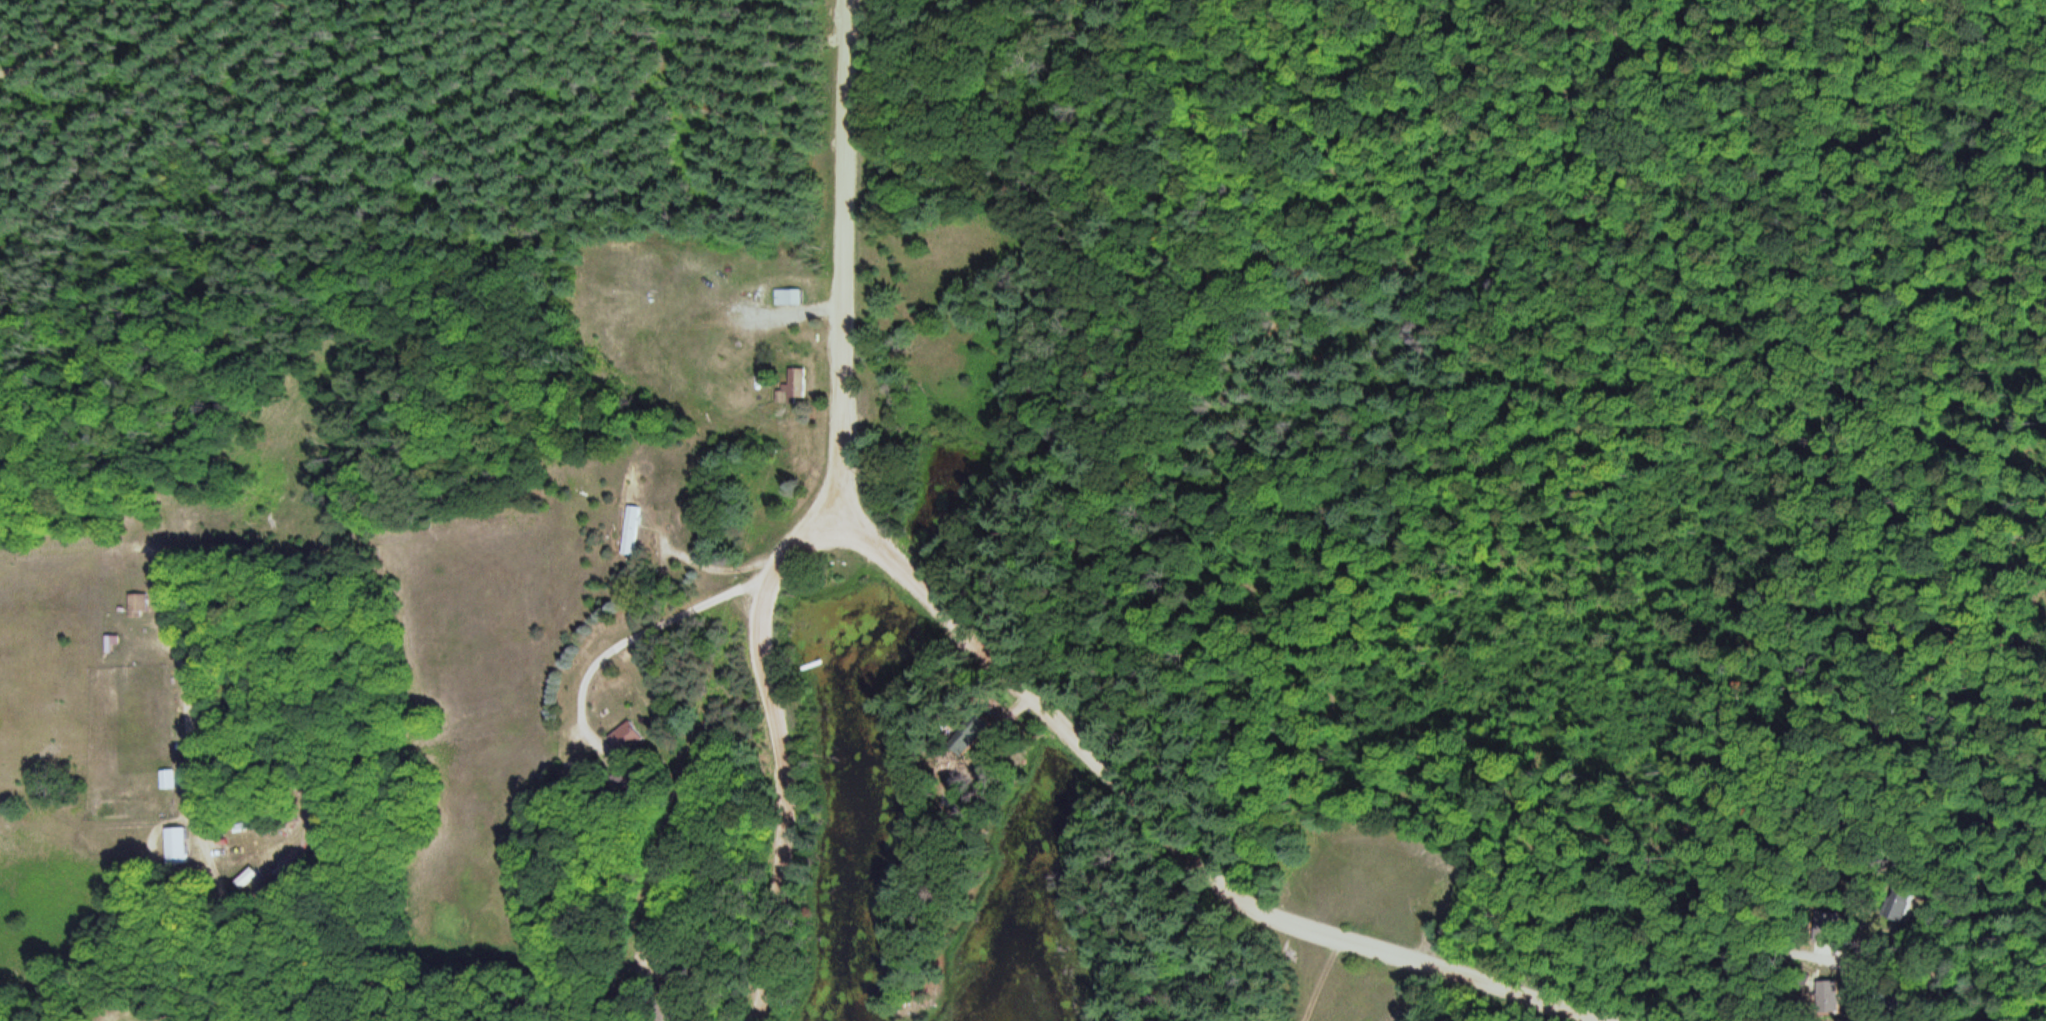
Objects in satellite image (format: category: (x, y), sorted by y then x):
road: (1606, 7)
road: (1493, 8)
road: (965, 10)
road: (71, 47)
road: (1324, 82)
road: (1021, 207)
road: (838, 257)
building: (793, 297)
building: (804, 386)
building: (635, 531)
building: (143, 605)
building: (114, 643)
road: (1701, 732)
building: (638, 738)
road: (786, 746)
building: (171, 779)
road: (1175, 842)
building: (183, 846)
building: (1891, 908)
building: (1824, 926)
building: (685, 971)
building: (1826, 997)
building: (679, 1010)

